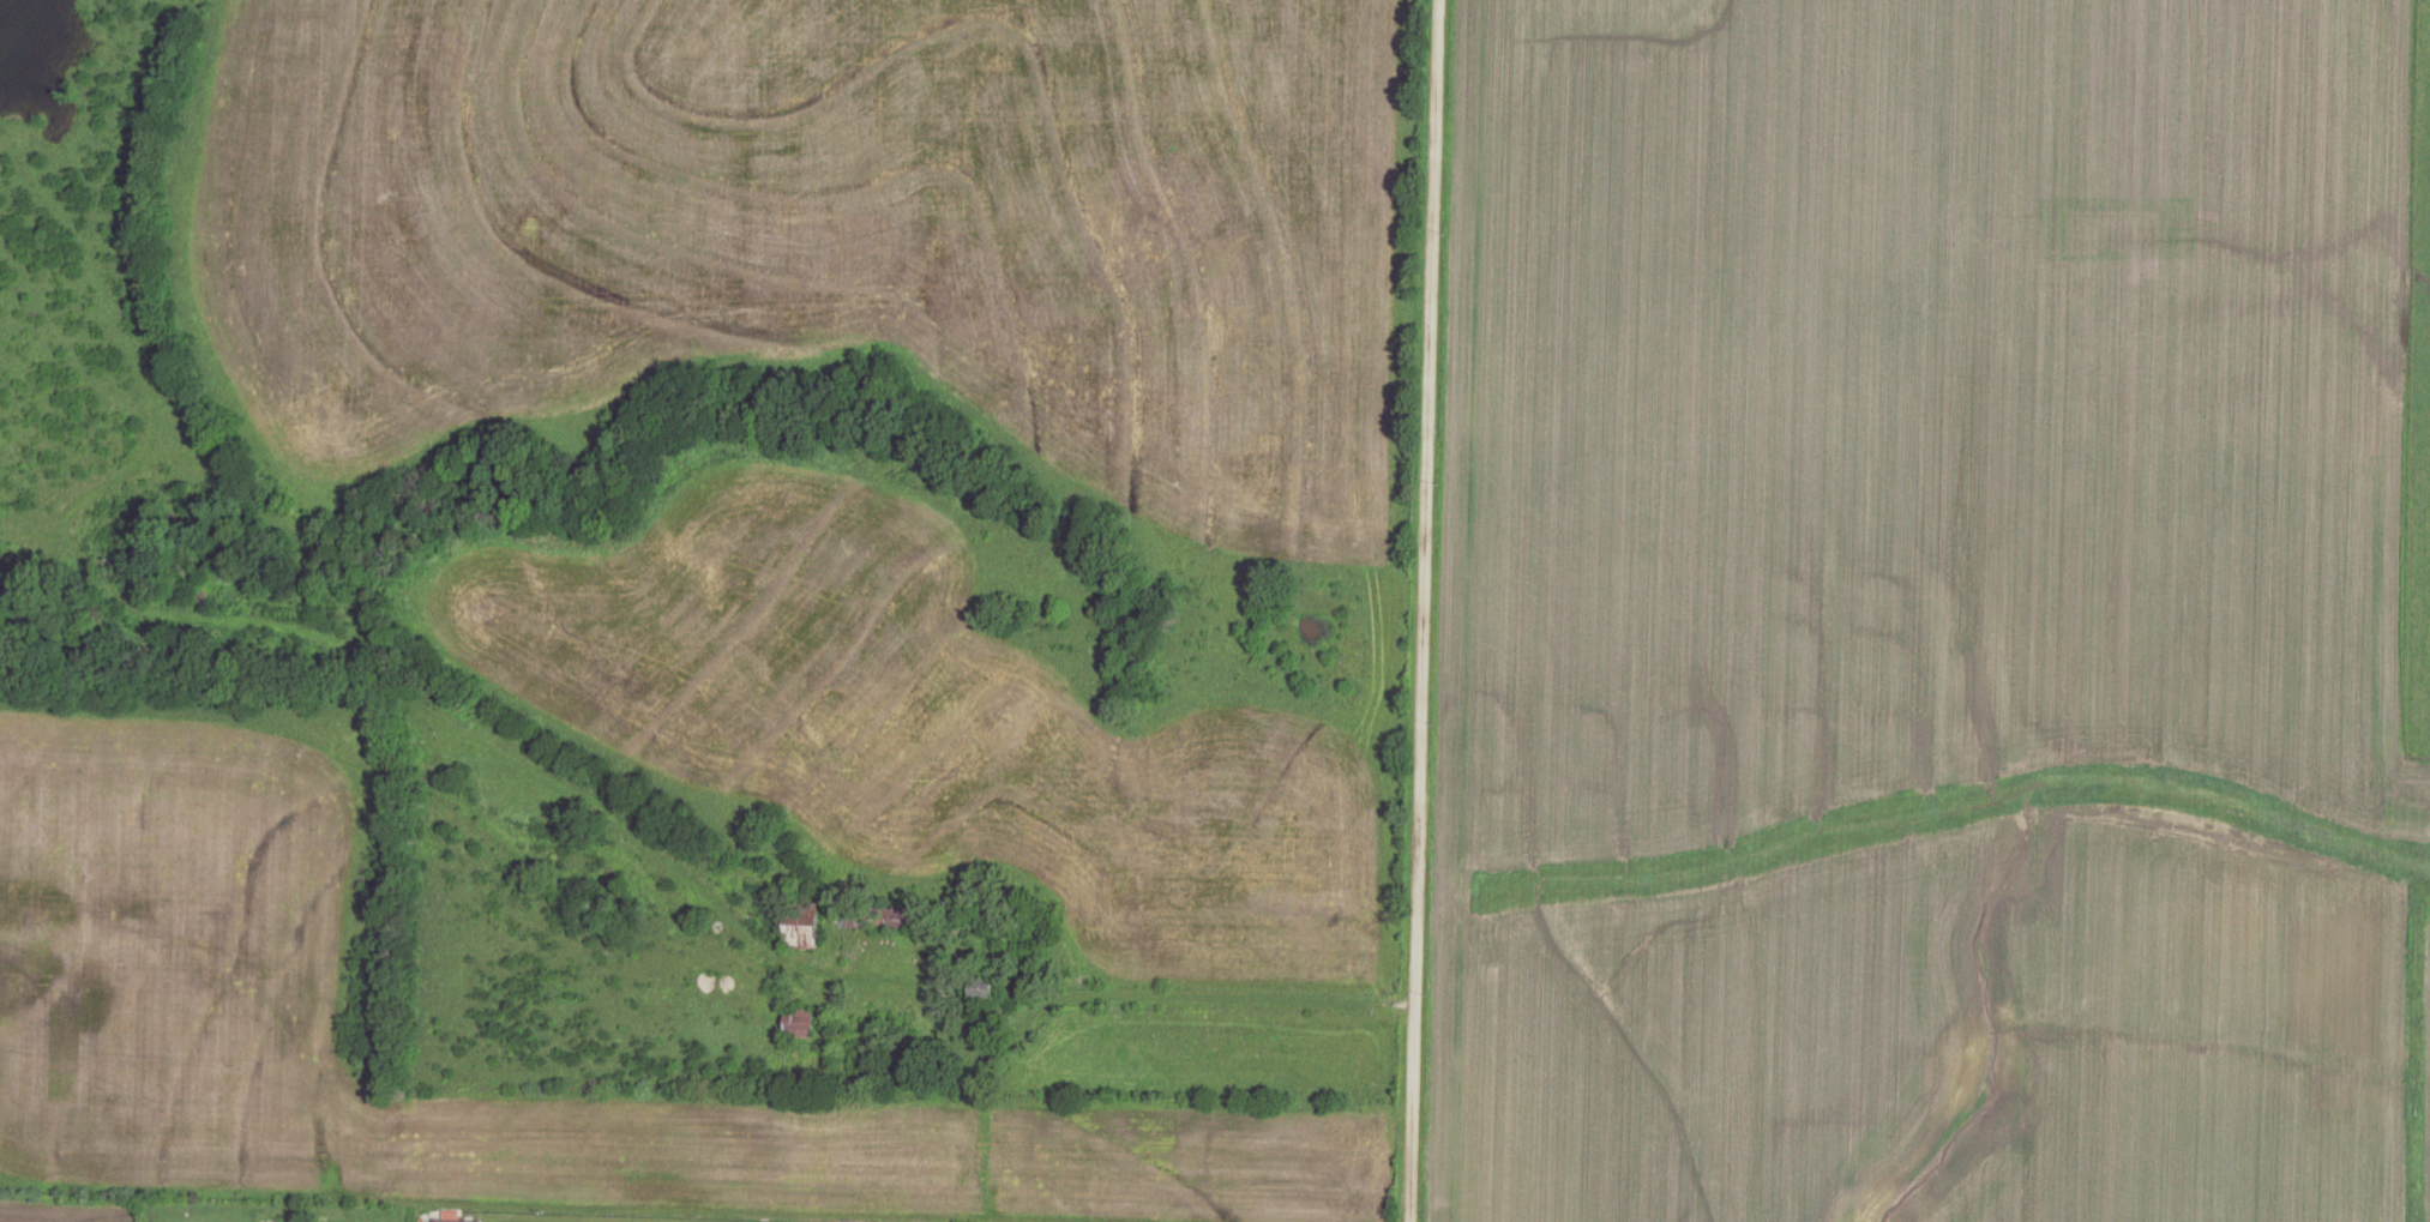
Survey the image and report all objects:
road: (1422, 610)
crop: (1929, 615)
building: (890, 917)
road: (1227, 934)
building: (981, 992)
building: (798, 1023)

